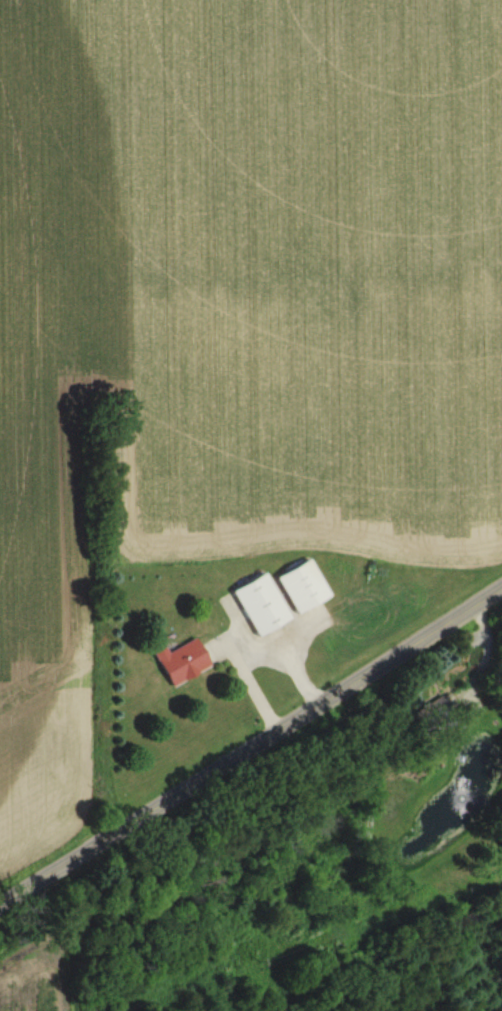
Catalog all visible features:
building: (302, 586)
building: (259, 604)
building: (181, 660)
building: (438, 714)
road: (251, 756)

